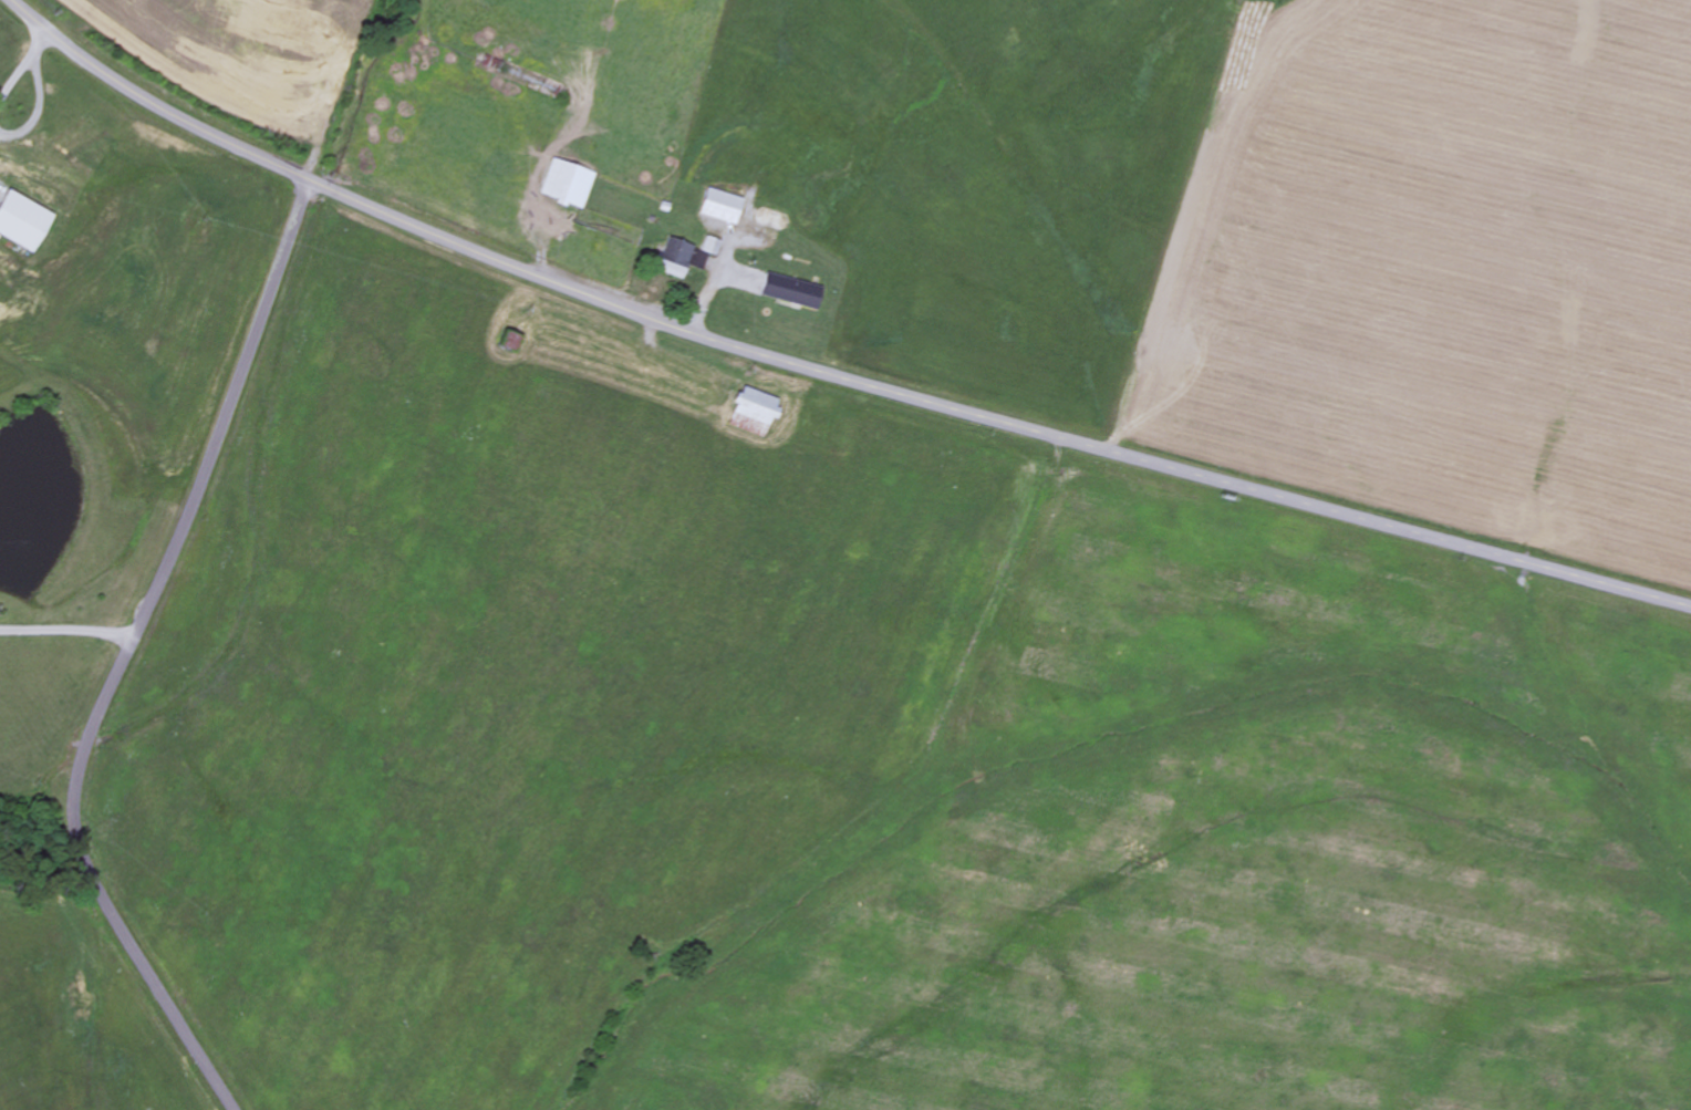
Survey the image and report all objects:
building: (568, 185)
building: (720, 208)
building: (21, 222)
building: (712, 247)
building: (673, 260)
building: (790, 292)
building: (510, 342)
road: (822, 373)
building: (753, 413)
road: (125, 654)

